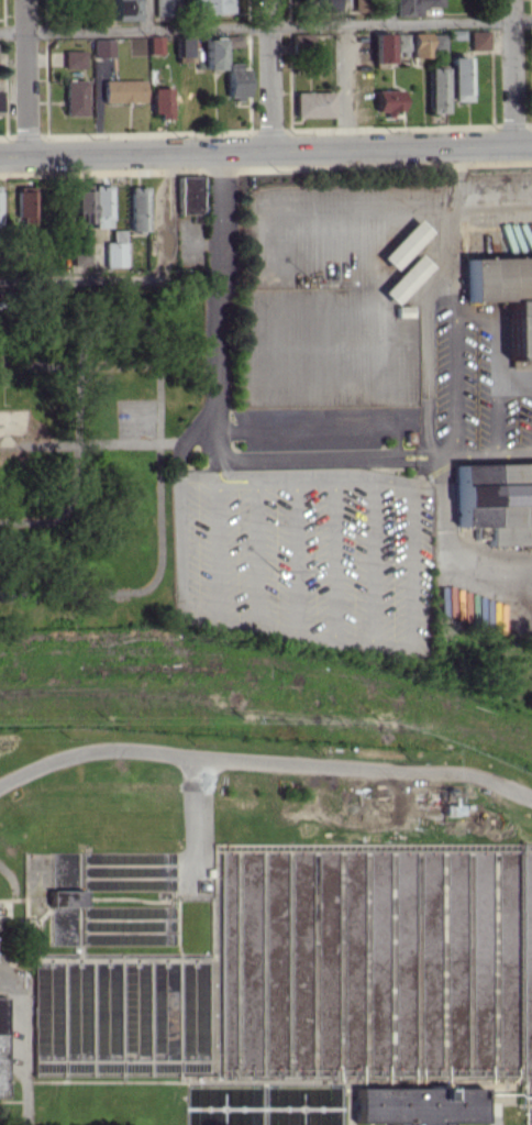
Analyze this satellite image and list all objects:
building: (212, 5)
building: (417, 7)
building: (125, 10)
road: (391, 11)
road: (149, 13)
road: (265, 25)
building: (480, 38)
building: (233, 40)
building: (403, 41)
building: (439, 42)
building: (155, 44)
building: (420, 44)
building: (181, 46)
building: (102, 47)
building: (383, 47)
building: (212, 52)
building: (74, 58)
road: (495, 71)
road: (519, 71)
road: (293, 74)
road: (251, 75)
road: (270, 75)
road: (7, 77)
road: (25, 77)
road: (47, 77)
building: (458, 78)
building: (236, 80)
road: (346, 86)
building: (437, 89)
building: (122, 90)
building: (74, 97)
building: (160, 101)
building: (389, 101)
building: (313, 103)
road: (265, 150)
building: (189, 196)
building: (78, 206)
building: (99, 206)
building: (24, 207)
building: (136, 208)
building: (406, 242)
building: (113, 249)
building: (507, 275)
building: (406, 277)
road: (151, 290)
road: (447, 291)
road: (426, 297)
building: (403, 309)
road: (498, 343)
road: (157, 368)
road: (456, 379)
road: (497, 411)
road: (486, 452)
road: (279, 453)
building: (496, 494)
road: (264, 762)
road: (191, 818)
wastewater plant: (263, 931)
building: (1, 1046)
road: (20, 1050)
road: (513, 1098)
building: (418, 1104)
road: (517, 1105)
road: (494, 1111)

